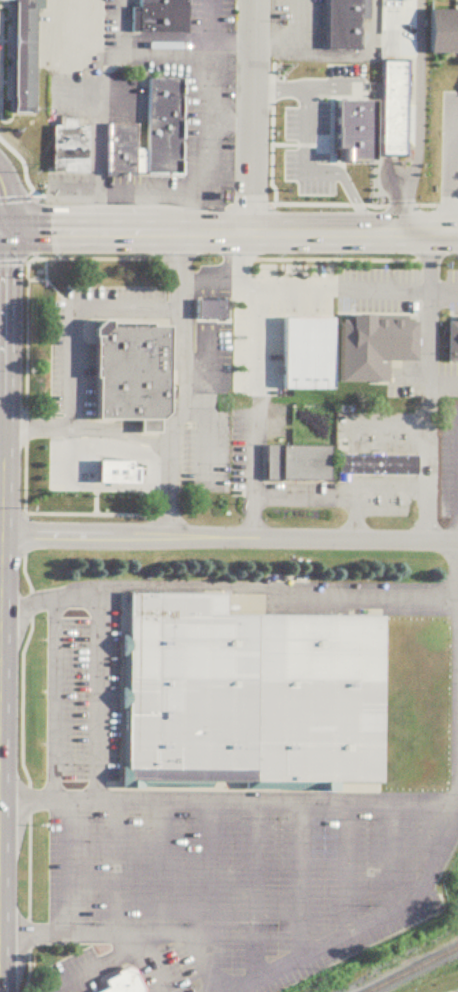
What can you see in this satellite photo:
building: (445, 3)
building: (159, 17)
road: (294, 21)
building: (345, 24)
parking lot: (294, 30)
road: (389, 31)
building: (444, 32)
road: (232, 43)
road: (272, 43)
road: (166, 46)
road: (294, 49)
road: (360, 55)
building: (22, 56)
road: (117, 58)
parking lot: (73, 94)
road: (75, 94)
road: (416, 94)
building: (394, 108)
road: (250, 116)
road: (231, 119)
road: (304, 119)
road: (456, 122)
building: (345, 123)
parking lot: (185, 124)
building: (152, 133)
road: (94, 141)
building: (70, 146)
building: (321, 147)
parking lot: (306, 150)
road: (18, 171)
road: (391, 172)
road: (213, 173)
road: (452, 173)
road: (33, 185)
road: (351, 200)
road: (354, 208)
road: (402, 209)
road: (94, 210)
road: (191, 210)
road: (26, 227)
traffic signals: (7, 231)
road: (229, 232)
road: (241, 255)
road: (306, 256)
road: (45, 277)
road: (212, 278)
road: (252, 282)
road: (302, 286)
parking lot: (378, 286)
road: (202, 288)
road: (215, 288)
road: (379, 288)
road: (55, 289)
road: (452, 289)
road: (430, 290)
parking lot: (452, 294)
building: (211, 308)
road: (202, 309)
road: (215, 309)
road: (174, 312)
parking lot: (272, 316)
road: (72, 317)
road: (202, 341)
parking lot: (225, 341)
road: (2, 342)
building: (453, 343)
building: (377, 344)
road: (1, 347)
road: (261, 351)
building: (308, 354)
parking lot: (69, 355)
road: (27, 356)
road: (215, 358)
building: (128, 374)
parking lot: (453, 381)
road: (439, 382)
road: (453, 382)
road: (430, 387)
road: (183, 388)
road: (187, 411)
road: (163, 428)
road: (69, 429)
road: (0, 430)
road: (86, 430)
road: (127, 430)
road: (392, 433)
road: (356, 441)
parking lot: (258, 442)
road: (378, 442)
road: (400, 442)
road: (205, 443)
parking lot: (208, 446)
road: (254, 453)
parking lot: (69, 463)
road: (69, 463)
building: (334, 463)
parking lot: (449, 464)
building: (119, 473)
building: (98, 474)
road: (356, 484)
road: (378, 485)
road: (401, 485)
road: (110, 486)
road: (160, 487)
road: (305, 493)
road: (393, 495)
road: (253, 516)
road: (355, 518)
road: (228, 540)
road: (256, 587)
road: (45, 601)
road: (17, 612)
building: (255, 695)
road: (29, 797)
road: (85, 801)
road: (53, 802)
road: (315, 803)
road: (24, 804)
road: (450, 804)
road: (73, 846)
parking lot: (216, 850)
road: (394, 857)
road: (164, 867)
road: (209, 868)
road: (347, 869)
road: (303, 881)
road: (256, 892)
road: (163, 934)
road: (60, 935)
road: (121, 955)
road: (210, 964)
railway: (410, 967)
building: (121, 981)
road: (451, 990)

